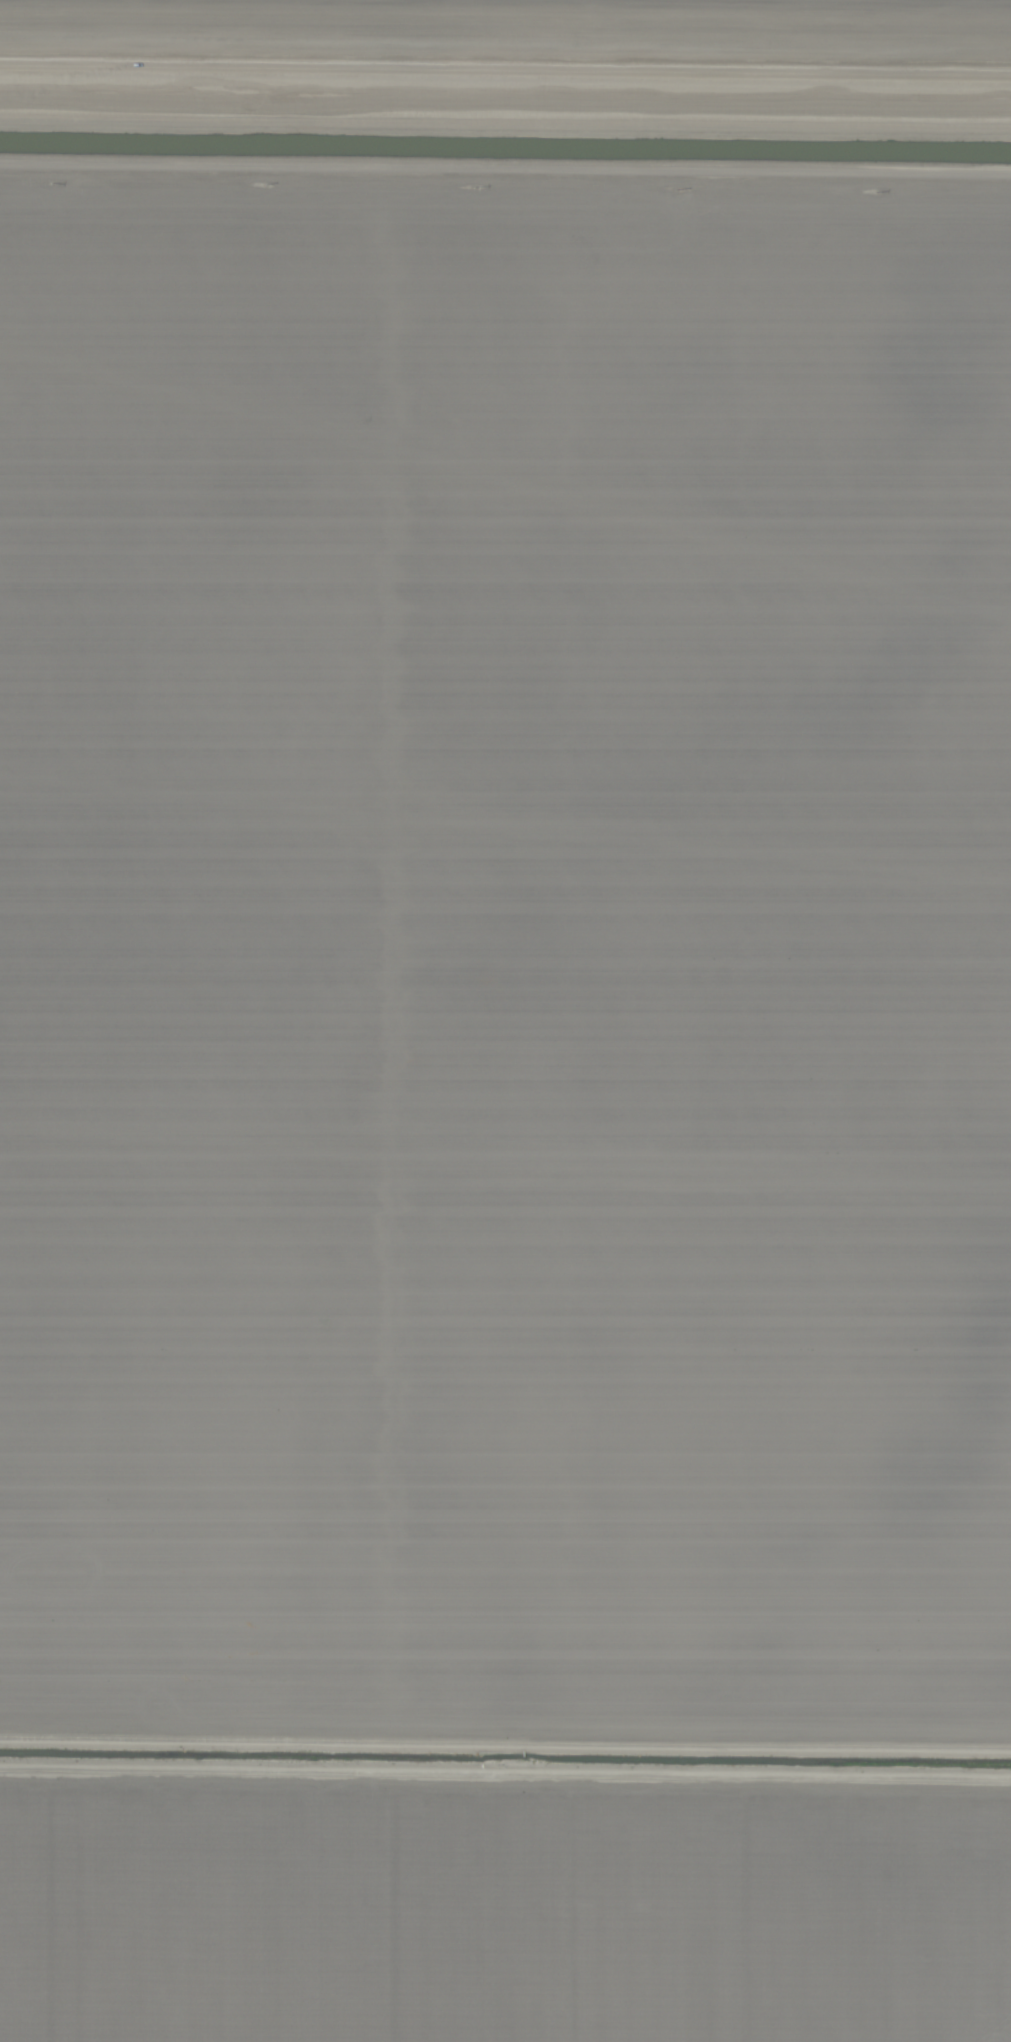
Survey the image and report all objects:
road: (505, 62)
road: (505, 194)
crop: (505, 1021)

